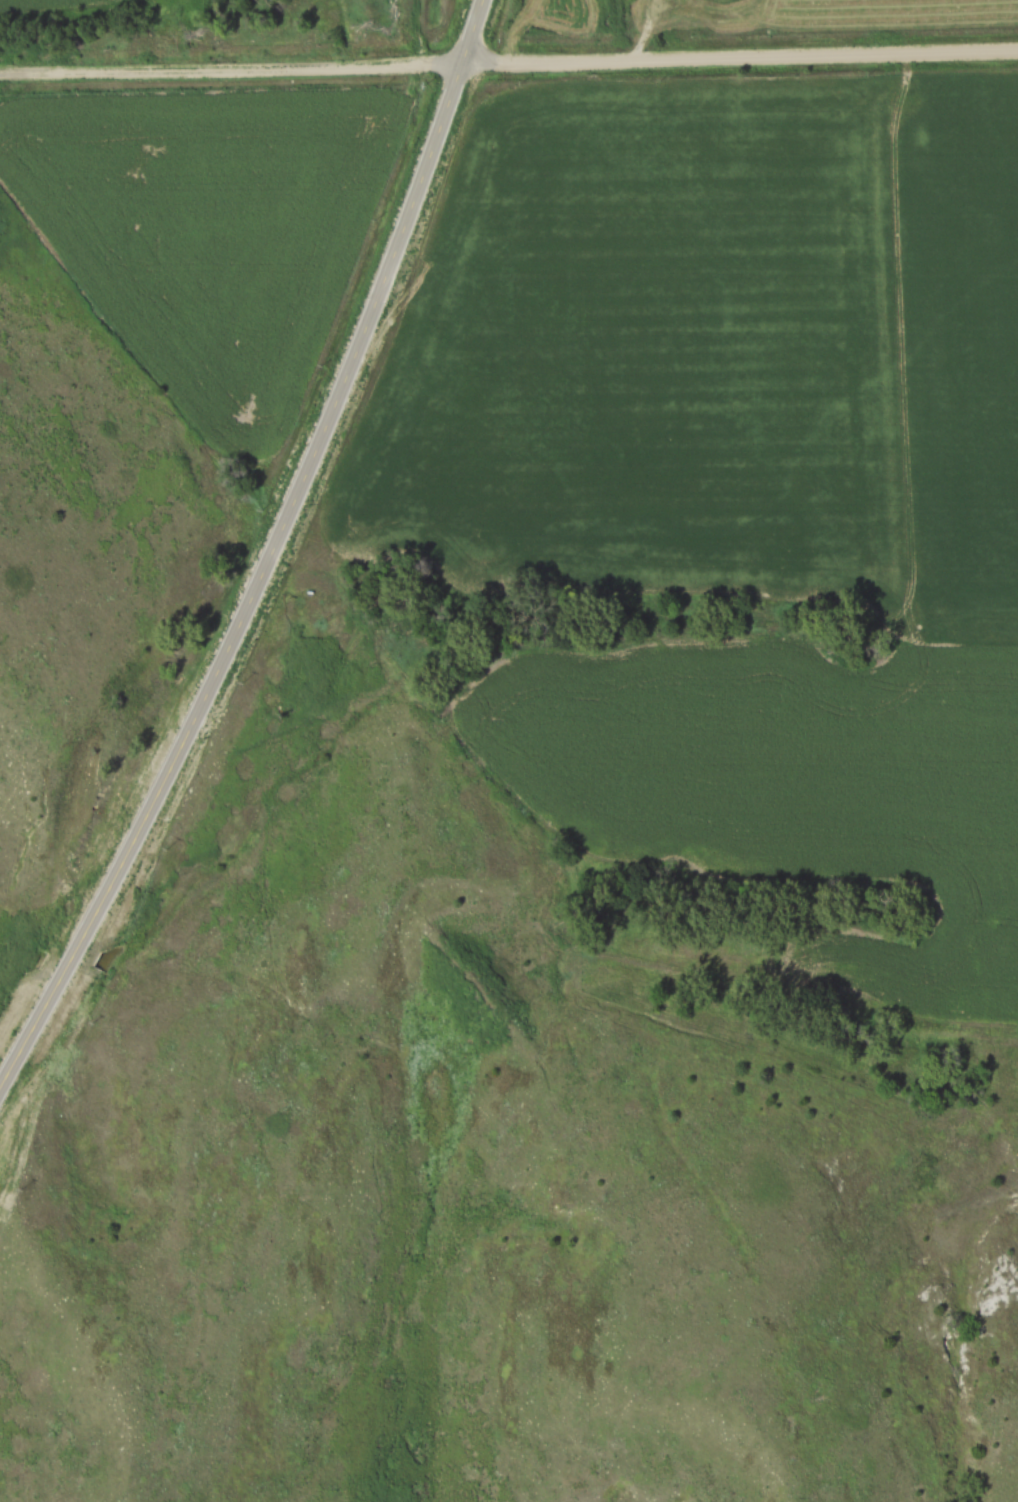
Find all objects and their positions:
road: (639, 31)
road: (738, 60)
road: (229, 72)
road: (269, 557)

